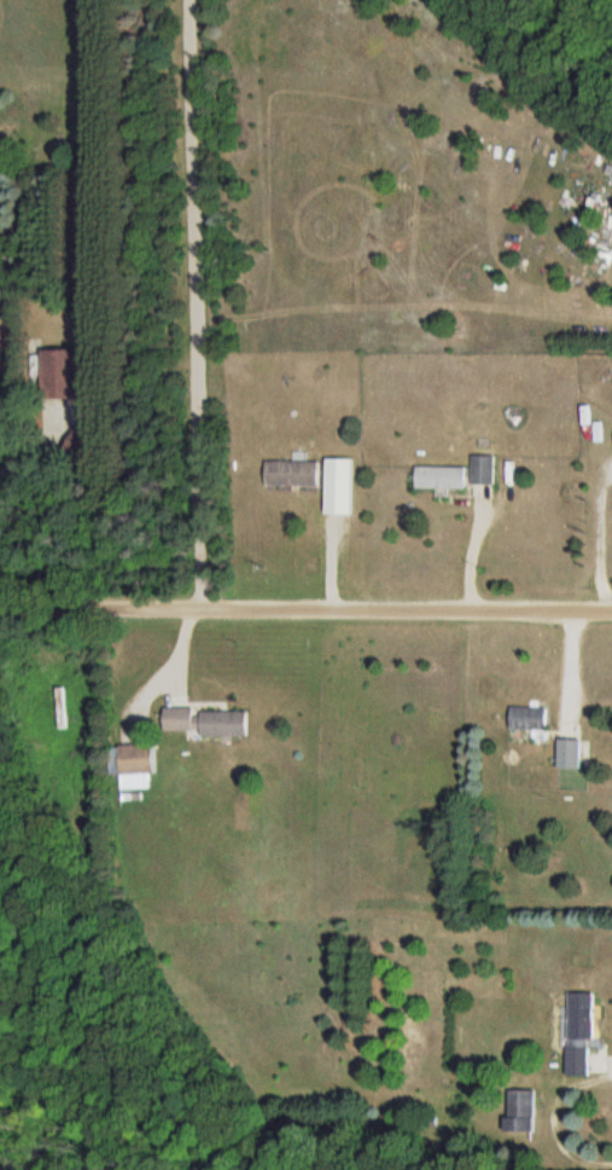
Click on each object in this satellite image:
road: (194, 305)
building: (59, 376)
building: (483, 469)
building: (292, 474)
building: (441, 477)
building: (339, 487)
road: (600, 539)
road: (472, 545)
road: (305, 610)
building: (529, 718)
building: (181, 720)
building: (223, 724)
building: (569, 753)
building: (136, 759)
building: (579, 1035)
building: (520, 1111)
road: (554, 1118)

